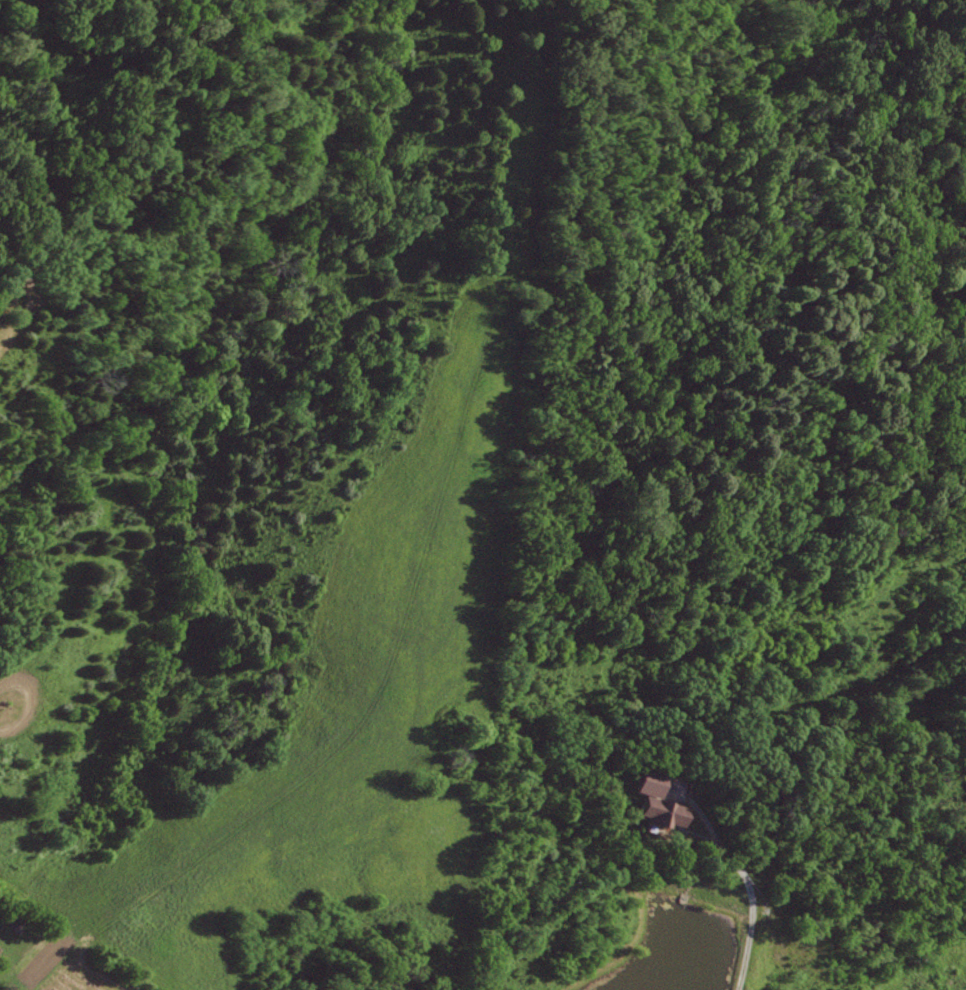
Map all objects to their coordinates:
building: (656, 804)
road: (750, 887)

